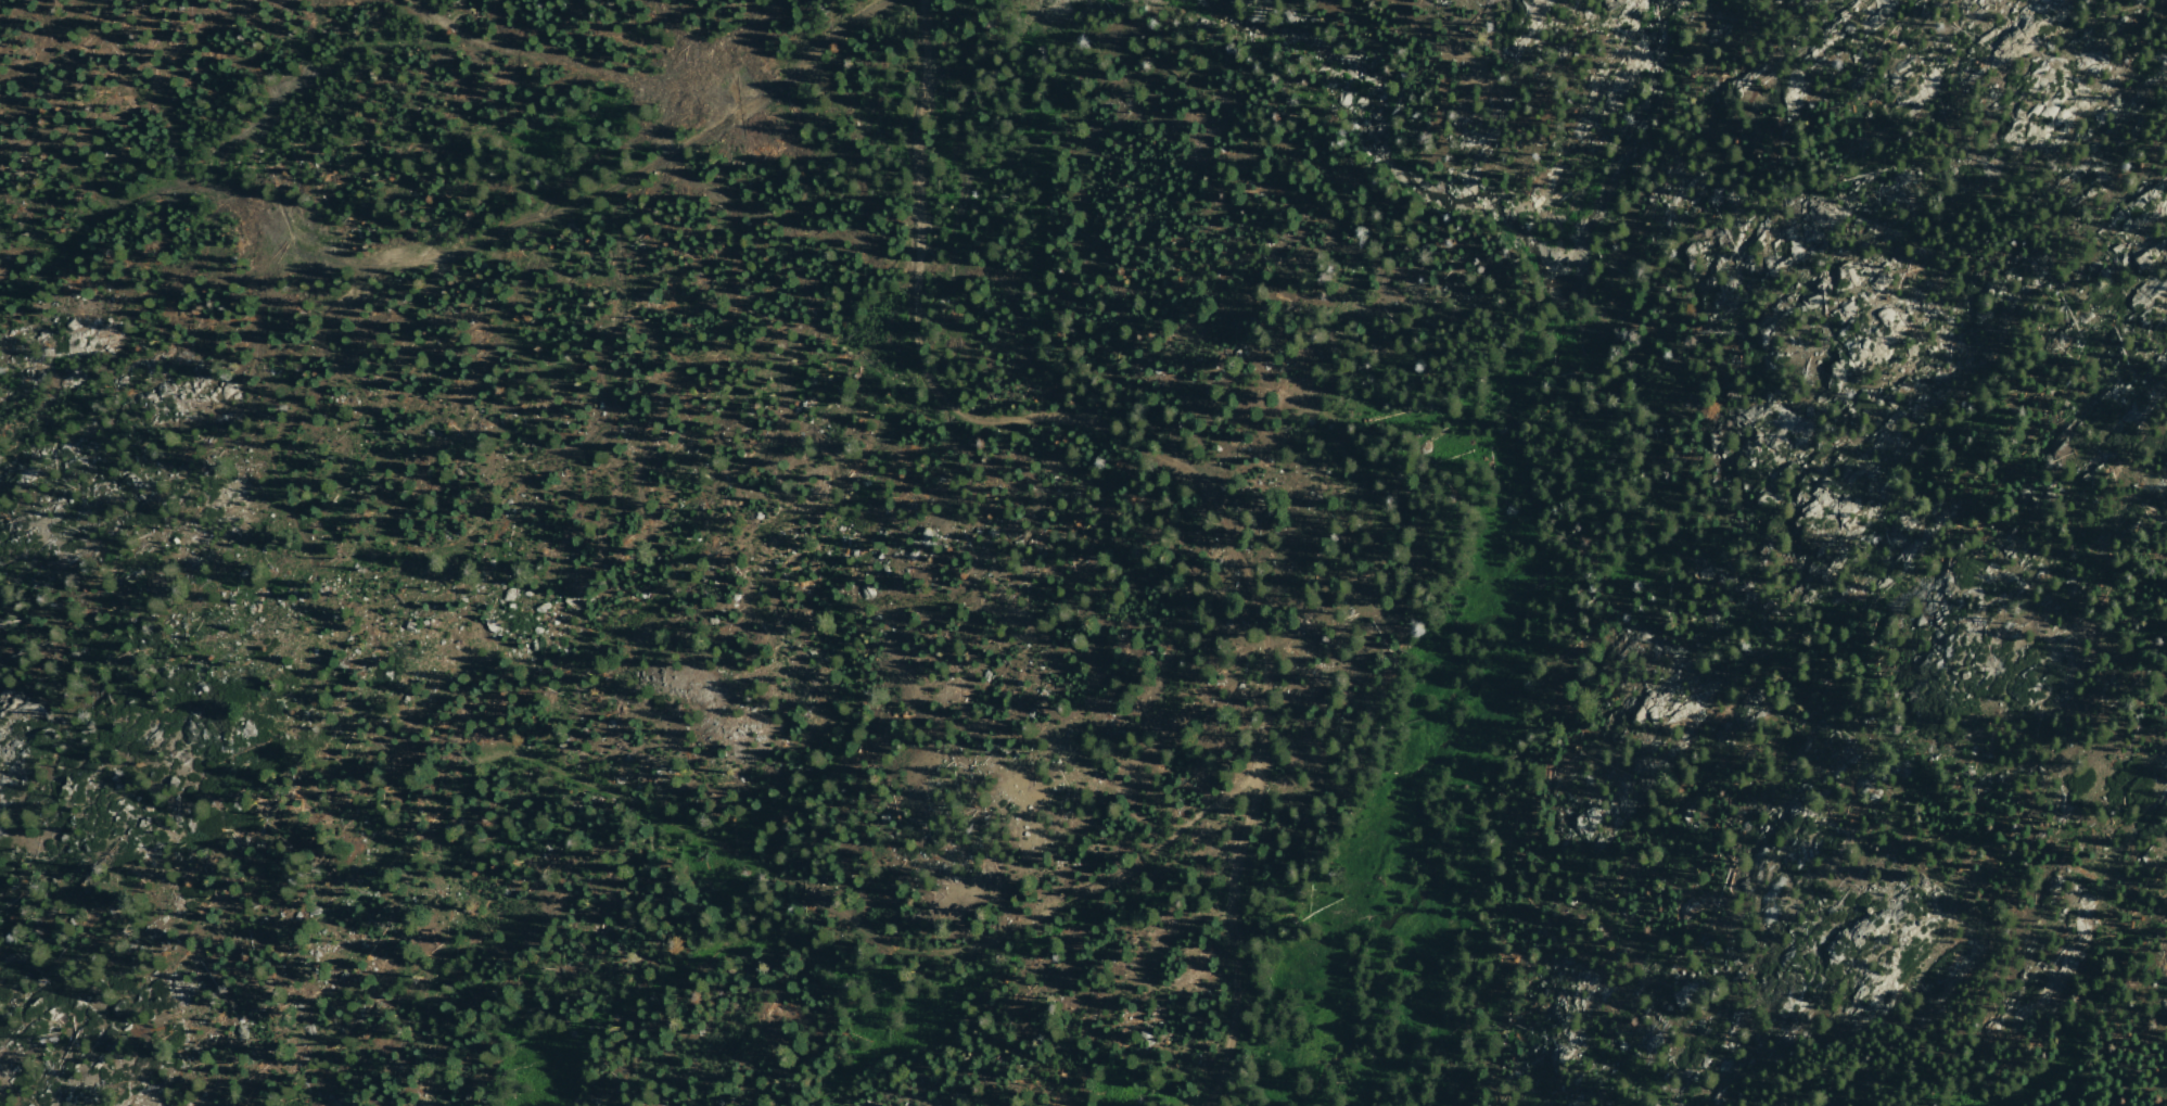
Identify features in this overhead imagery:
road: (1185, 461)

